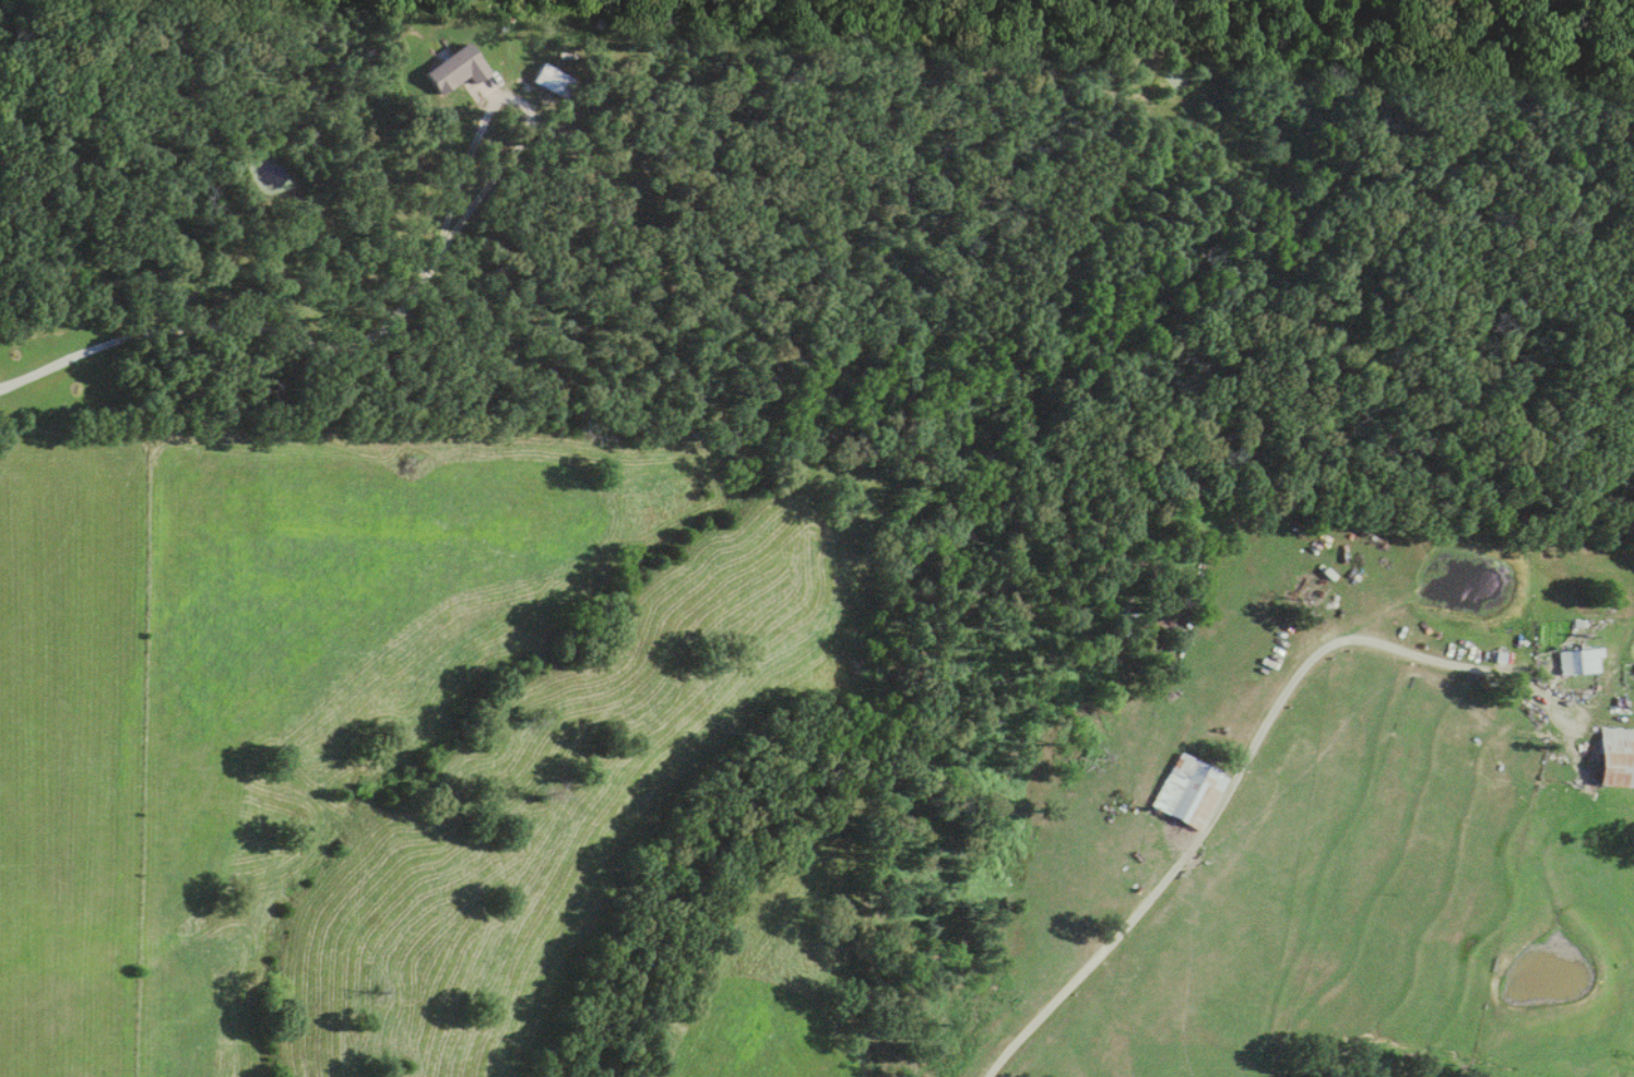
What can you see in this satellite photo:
building: (553, 82)
road: (519, 99)
road: (236, 327)
building: (1578, 662)
road: (1245, 758)
building: (1614, 759)
building: (1187, 794)

